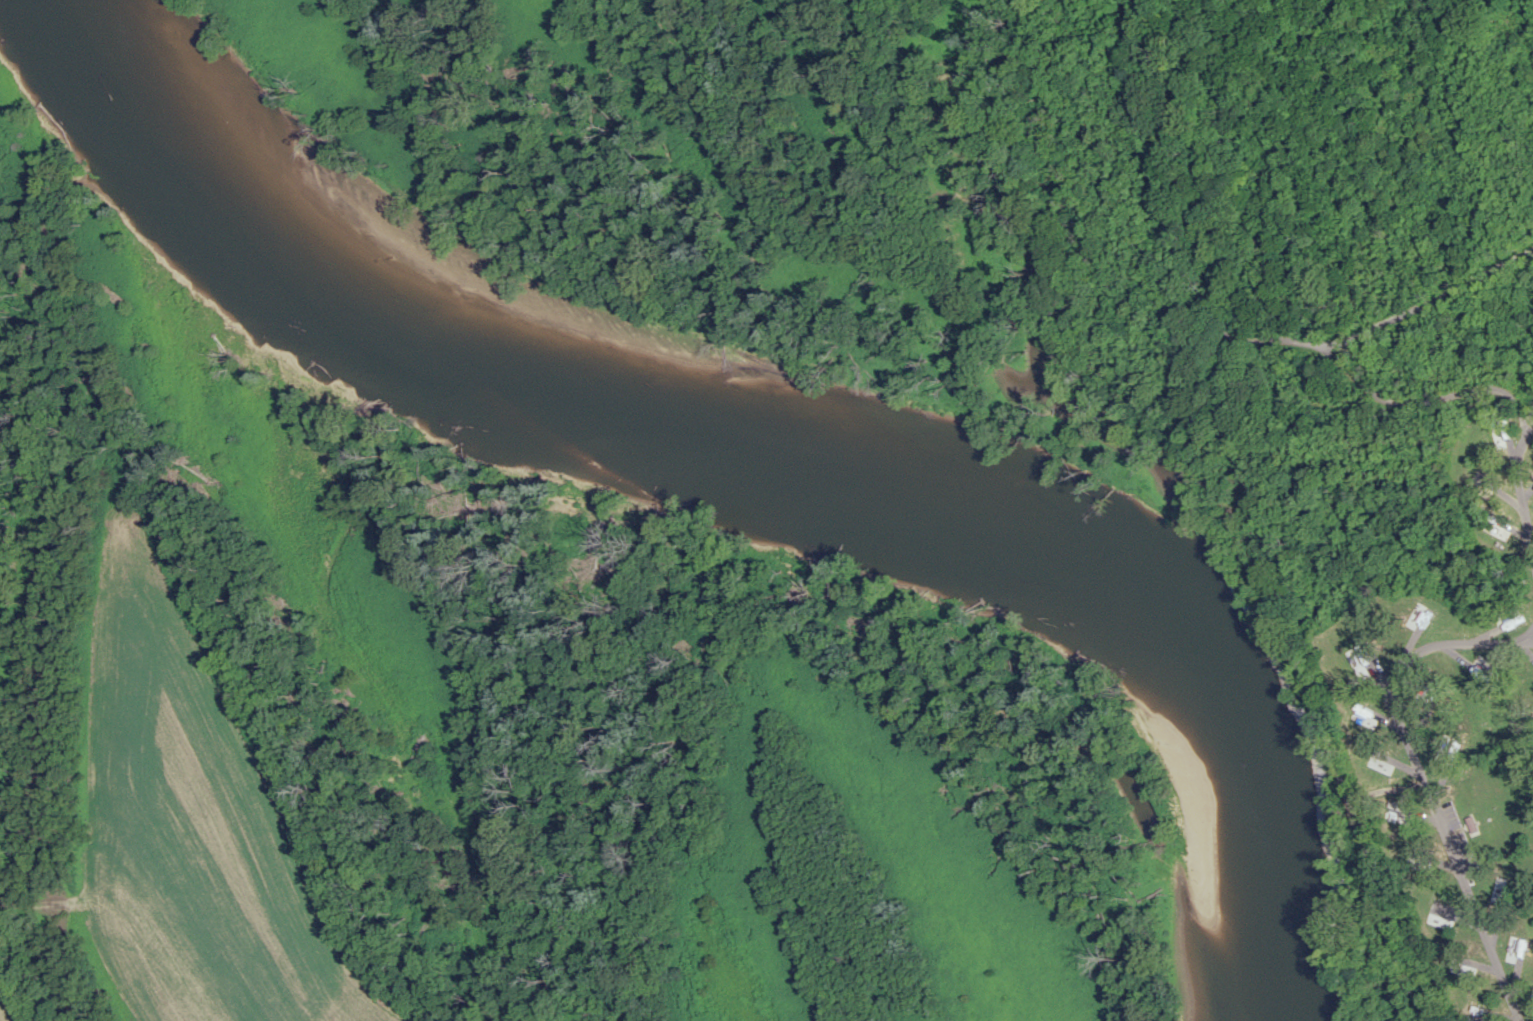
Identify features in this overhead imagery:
river: (776, 443)
road: (1519, 495)
road: (1528, 641)
road: (1420, 777)

